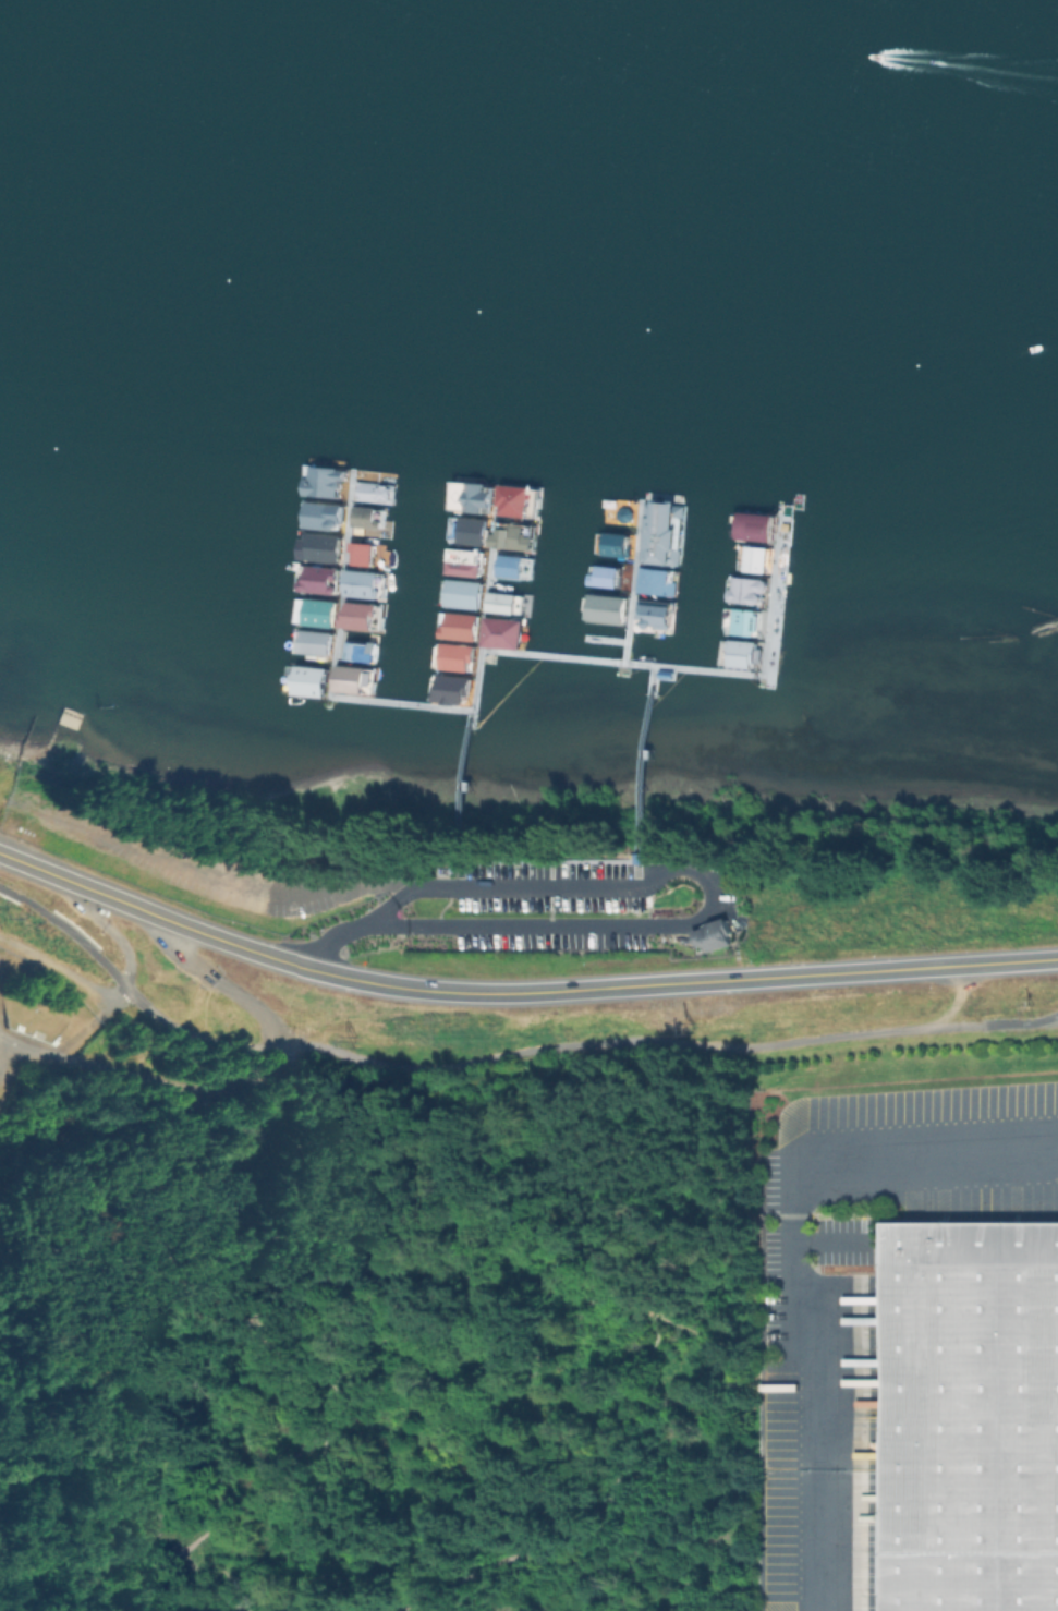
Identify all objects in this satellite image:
building: (511, 499)
building: (754, 528)
building: (471, 531)
building: (660, 535)
building: (511, 536)
building: (616, 544)
building: (318, 546)
building: (360, 553)
building: (755, 558)
building: (462, 561)
building: (508, 566)
building: (603, 576)
building: (318, 579)
pier: (631, 579)
building: (653, 581)
building: (358, 583)
building: (462, 593)
pier: (482, 595)
building: (502, 602)
building: (743, 605)
building: (606, 607)
building: (316, 613)
building: (355, 615)
building: (661, 615)
building: (460, 626)
building: (502, 632)
building: (312, 642)
building: (743, 653)
building: (457, 656)
pier: (705, 667)
building: (349, 678)
building: (308, 680)
building: (453, 689)
pier: (364, 698)
pier: (644, 761)
road: (83, 886)
road: (709, 889)
road: (398, 898)
road: (368, 925)
building: (715, 936)
road: (330, 941)
road: (66, 968)
road: (227, 988)
road: (607, 988)
road: (500, 1055)
road: (808, 1260)
building: (971, 1416)

